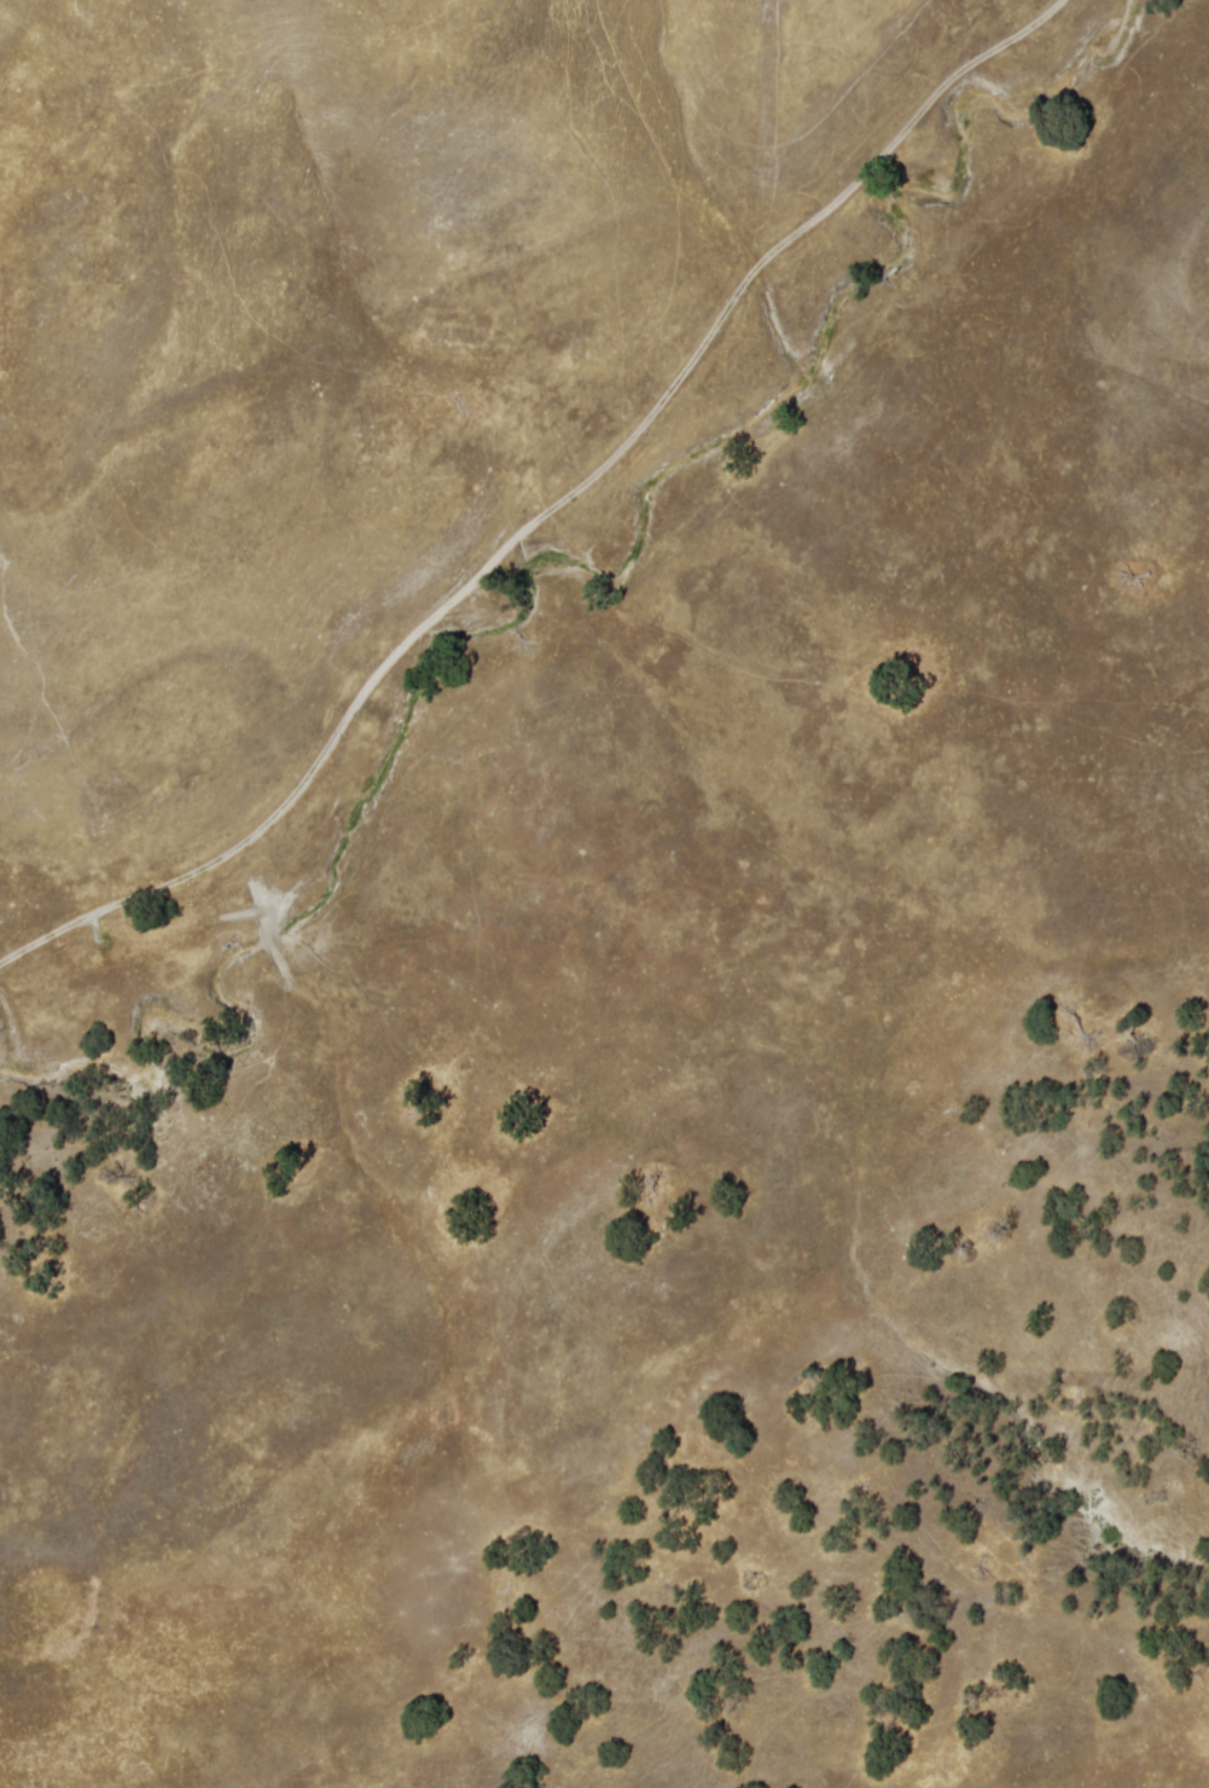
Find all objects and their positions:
road: (550, 510)

